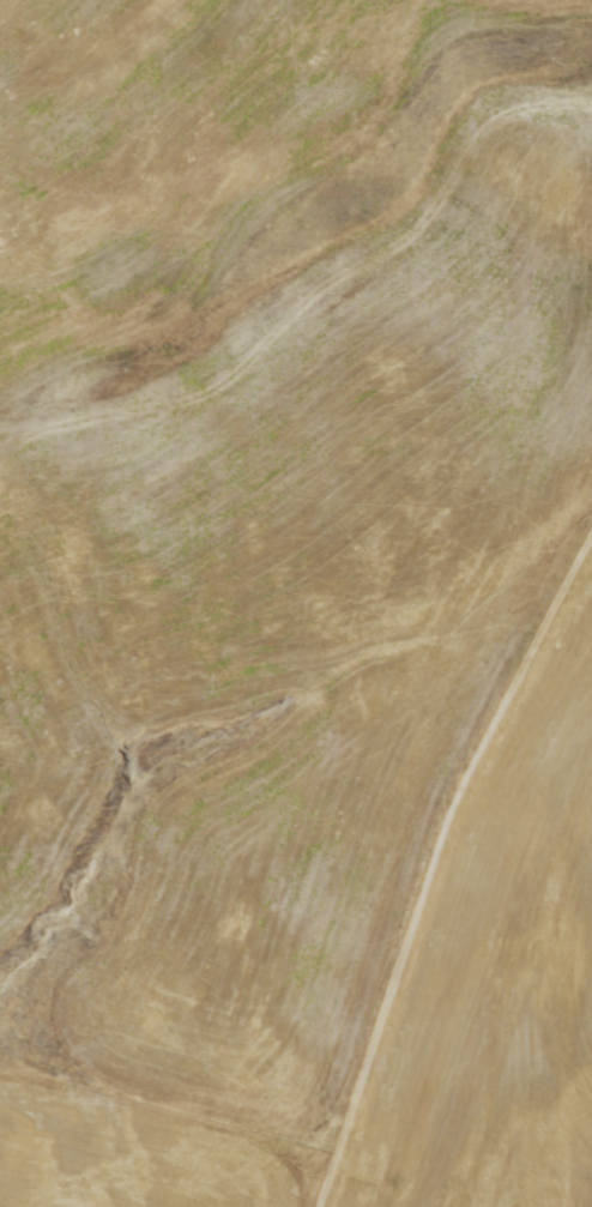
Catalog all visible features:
road: (441, 874)

